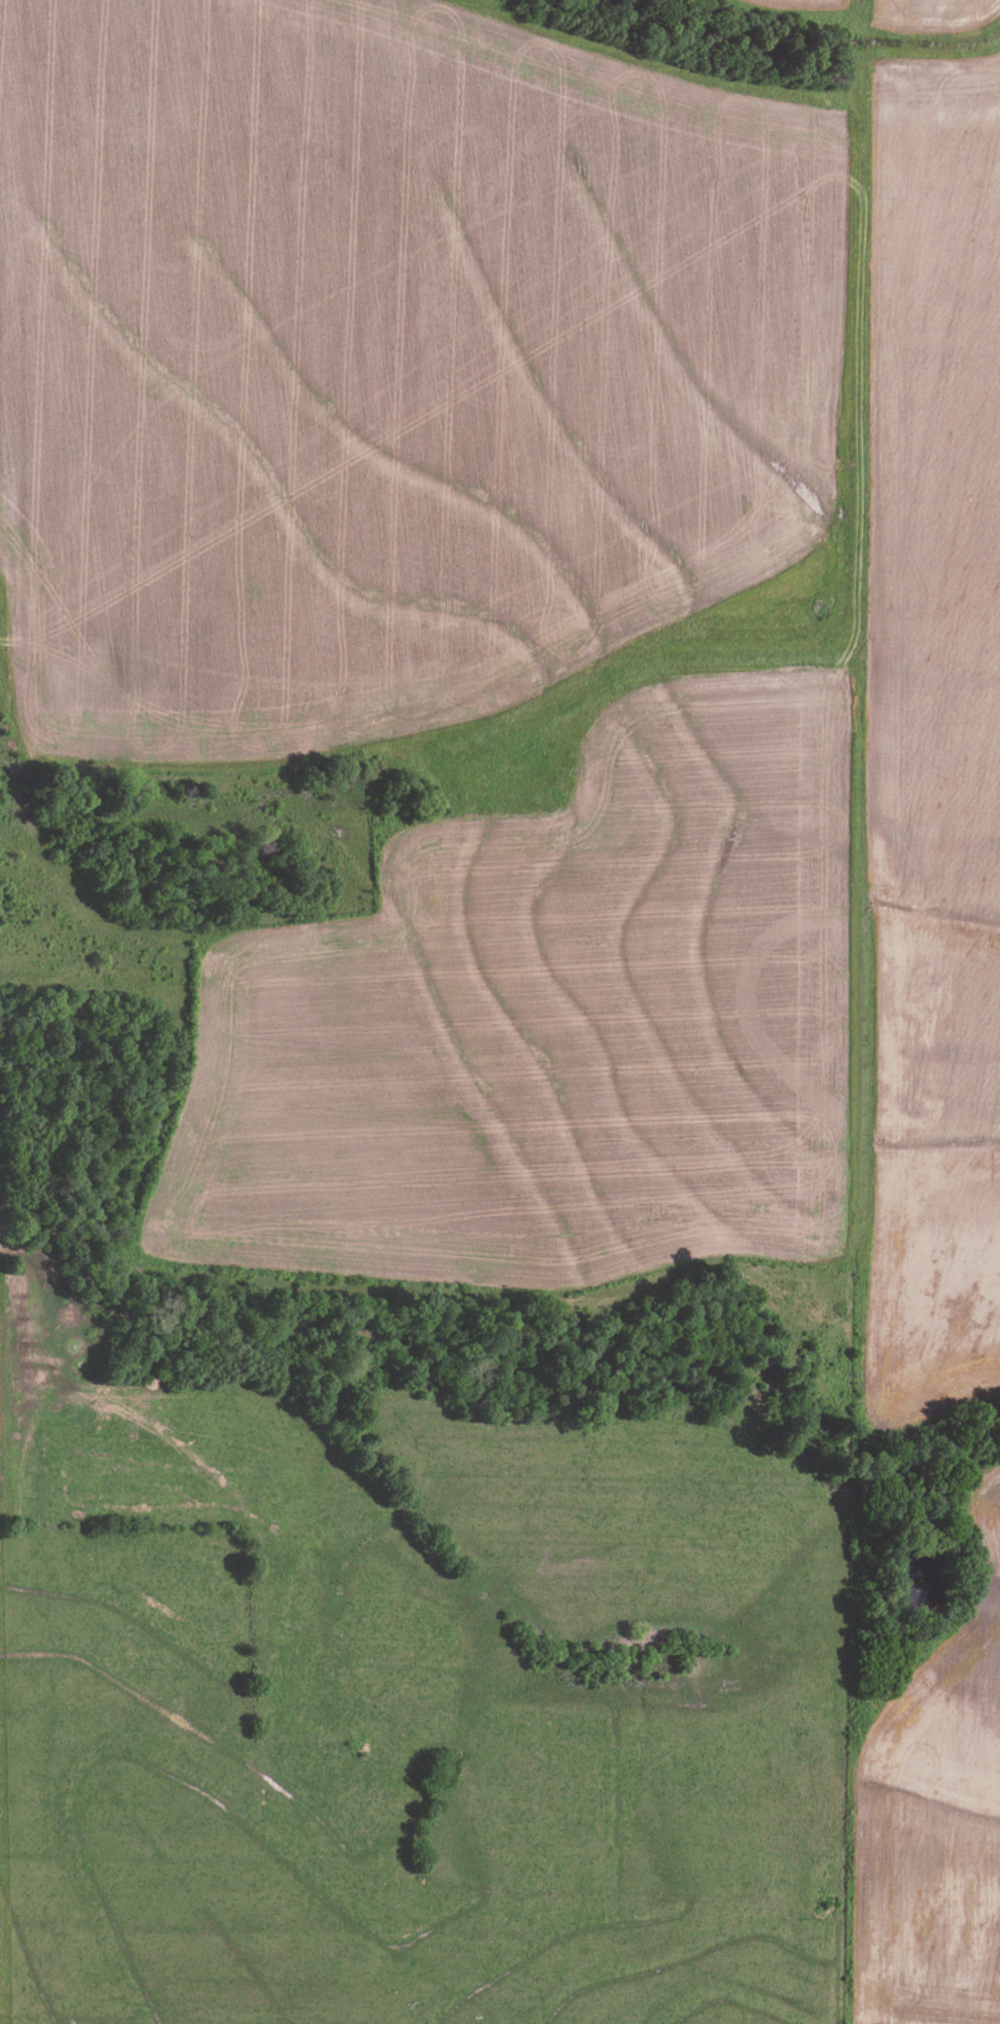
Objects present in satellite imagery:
road: (135, 766)

